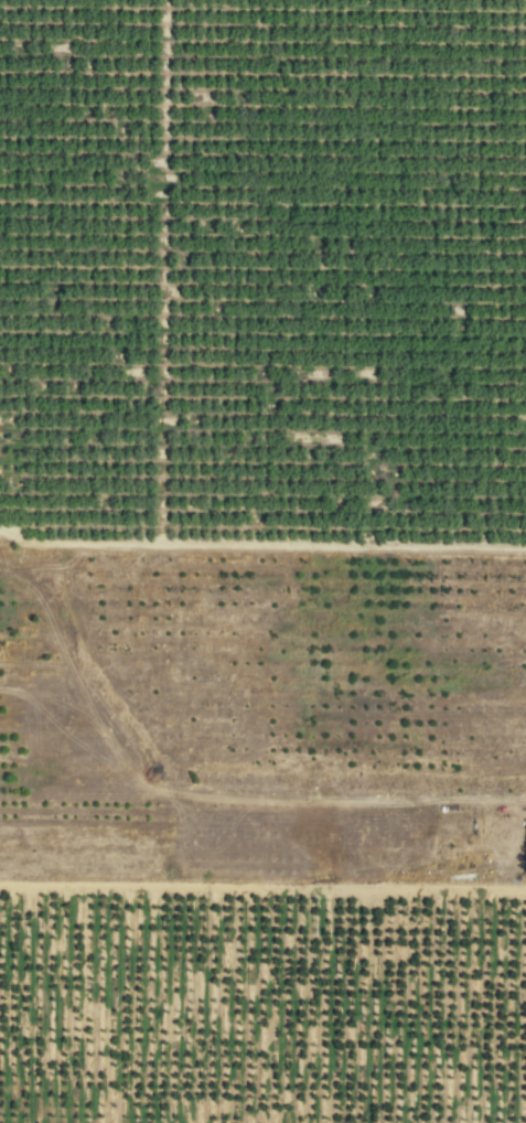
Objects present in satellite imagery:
road: (262, 881)

